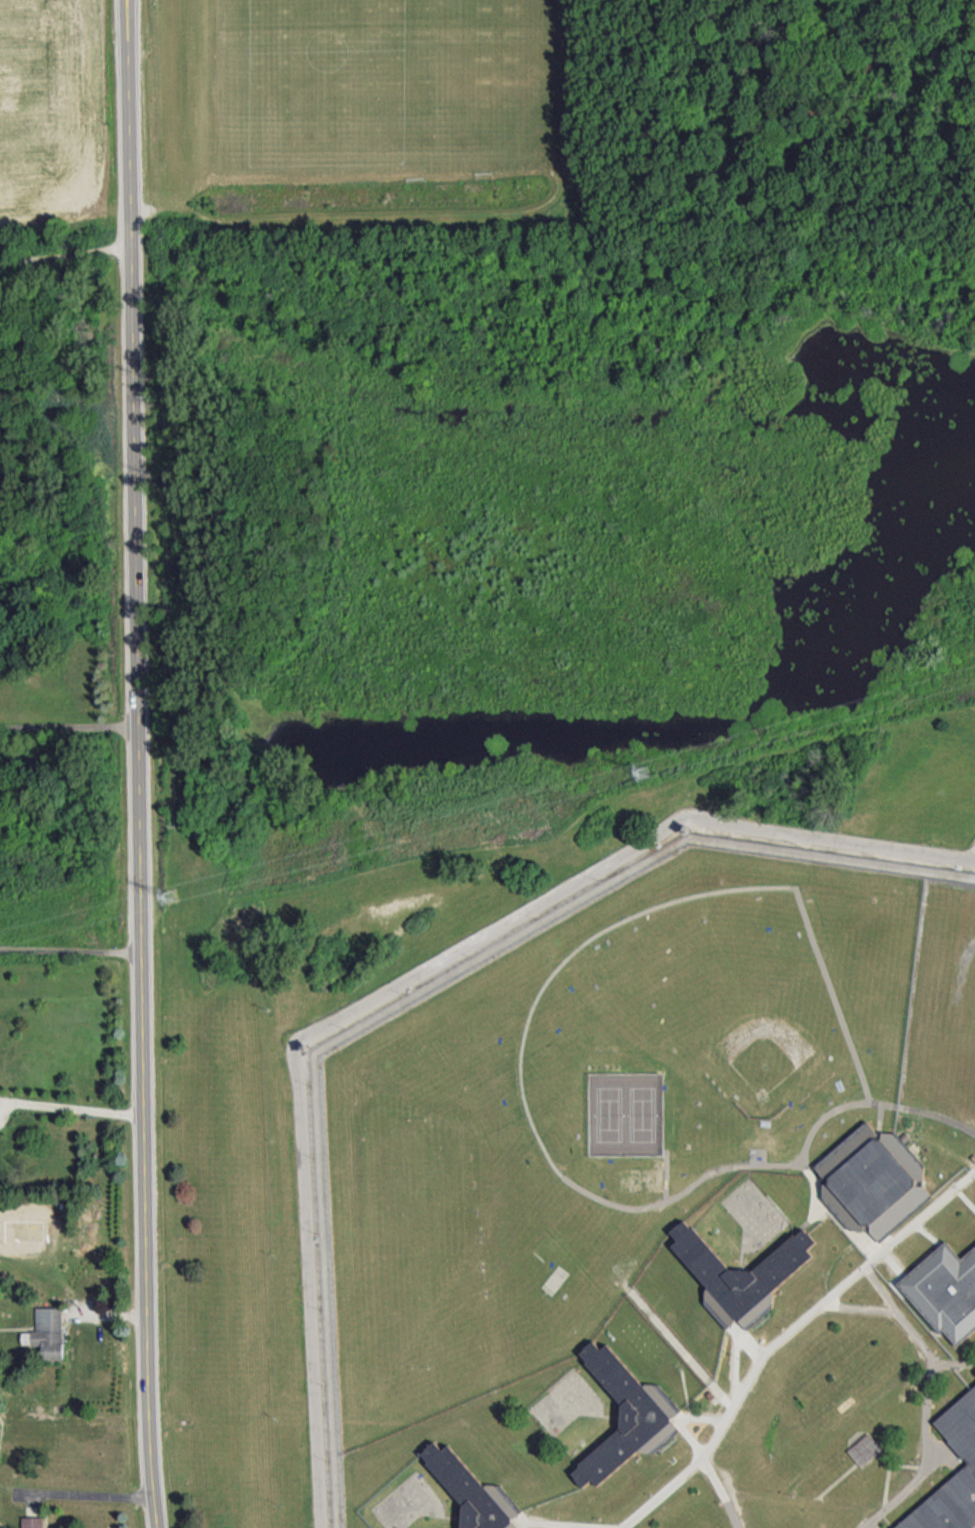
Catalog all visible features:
park: (551, 117)
road: (67, 255)
road: (71, 727)
road: (143, 764)
power tower: (637, 776)
power tower: (170, 895)
road: (73, 951)
road: (394, 973)
road: (6, 1103)
road: (81, 1109)
road: (7, 1114)
building: (871, 1178)
building: (739, 1271)
building: (945, 1285)
building: (49, 1331)
building: (625, 1415)
building: (962, 1441)
building: (472, 1490)
road: (94, 1493)
building: (33, 1521)

